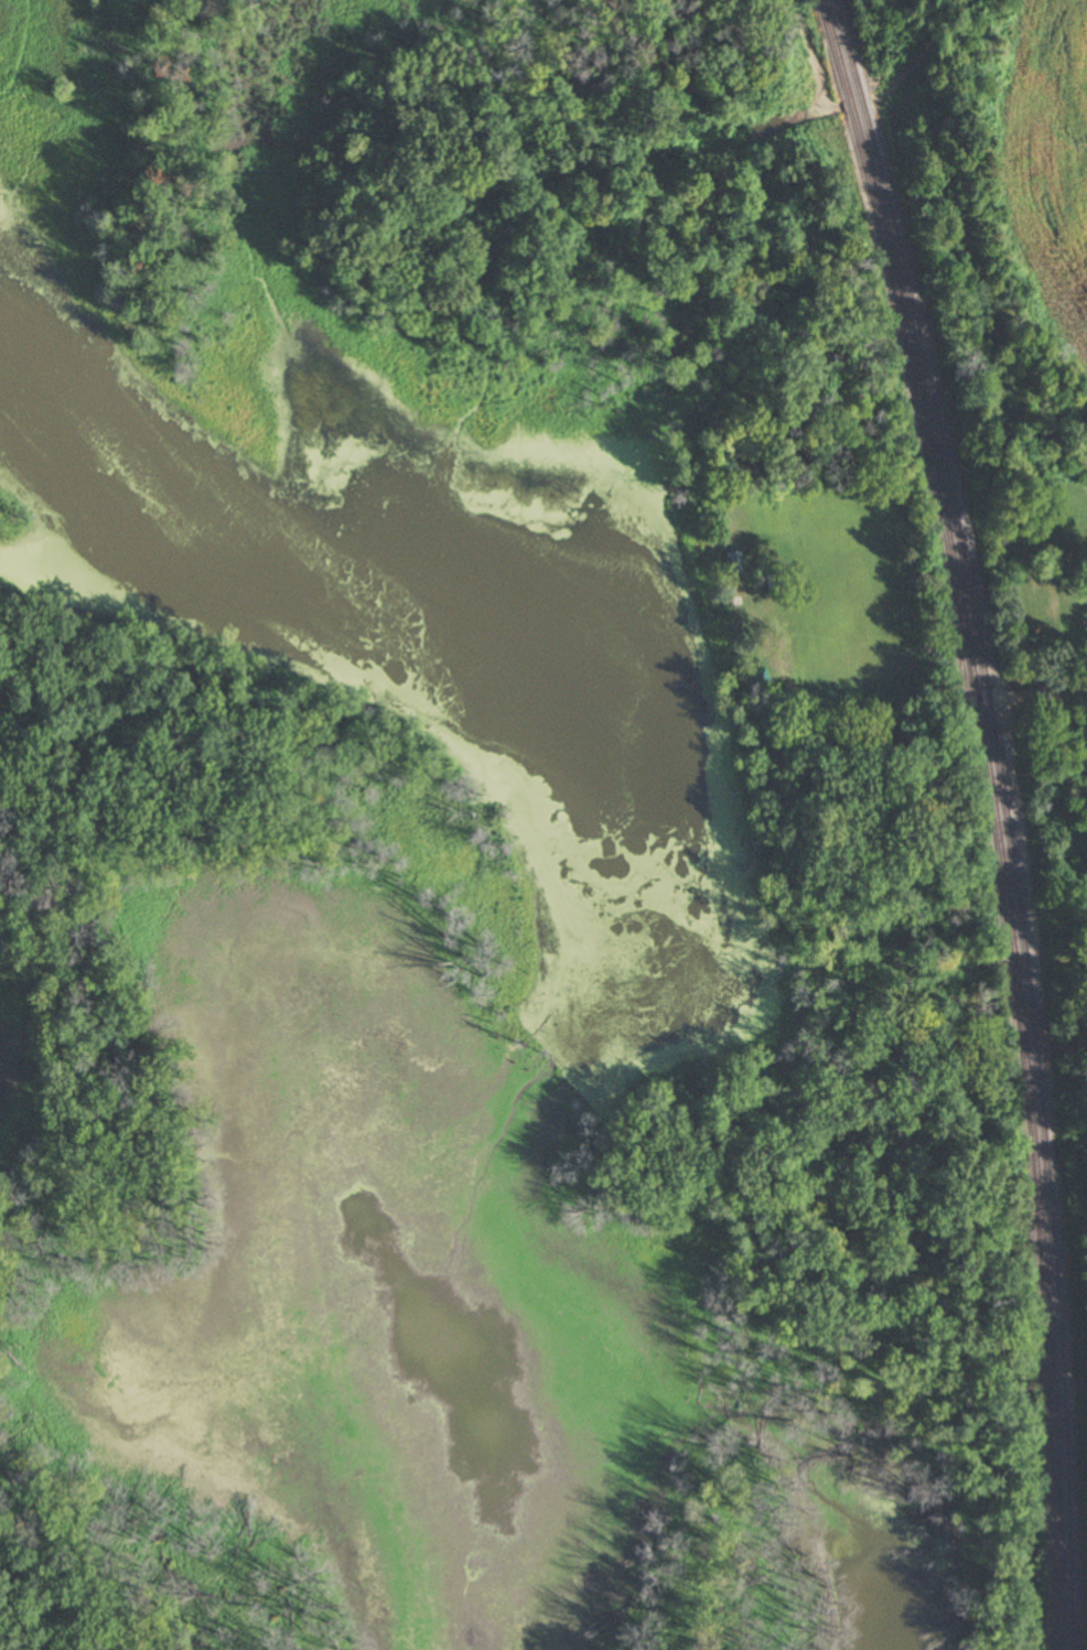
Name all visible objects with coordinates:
railway: (843, 40)
railway: (832, 42)
railway: (860, 100)
railway: (850, 104)
road: (1033, 693)
road: (798, 697)
railway: (1013, 878)
railway: (1002, 881)

